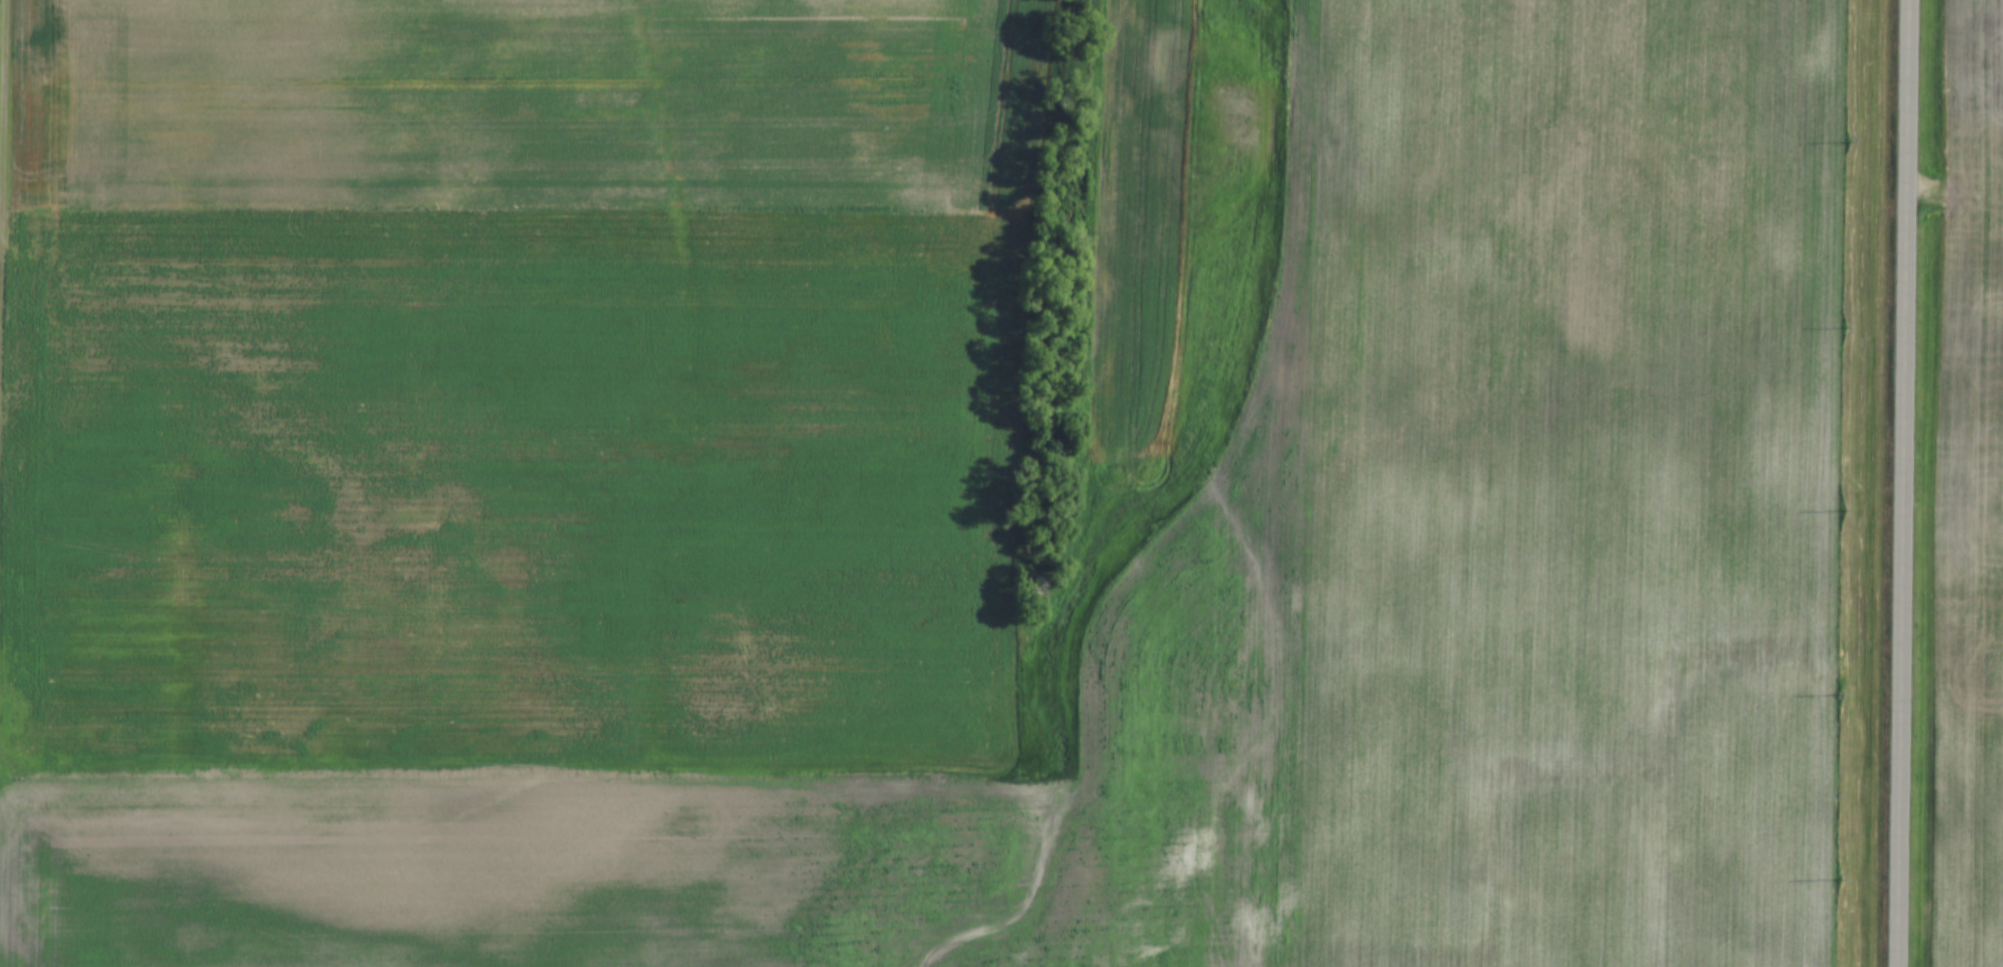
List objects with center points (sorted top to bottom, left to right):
road: (1908, 483)

